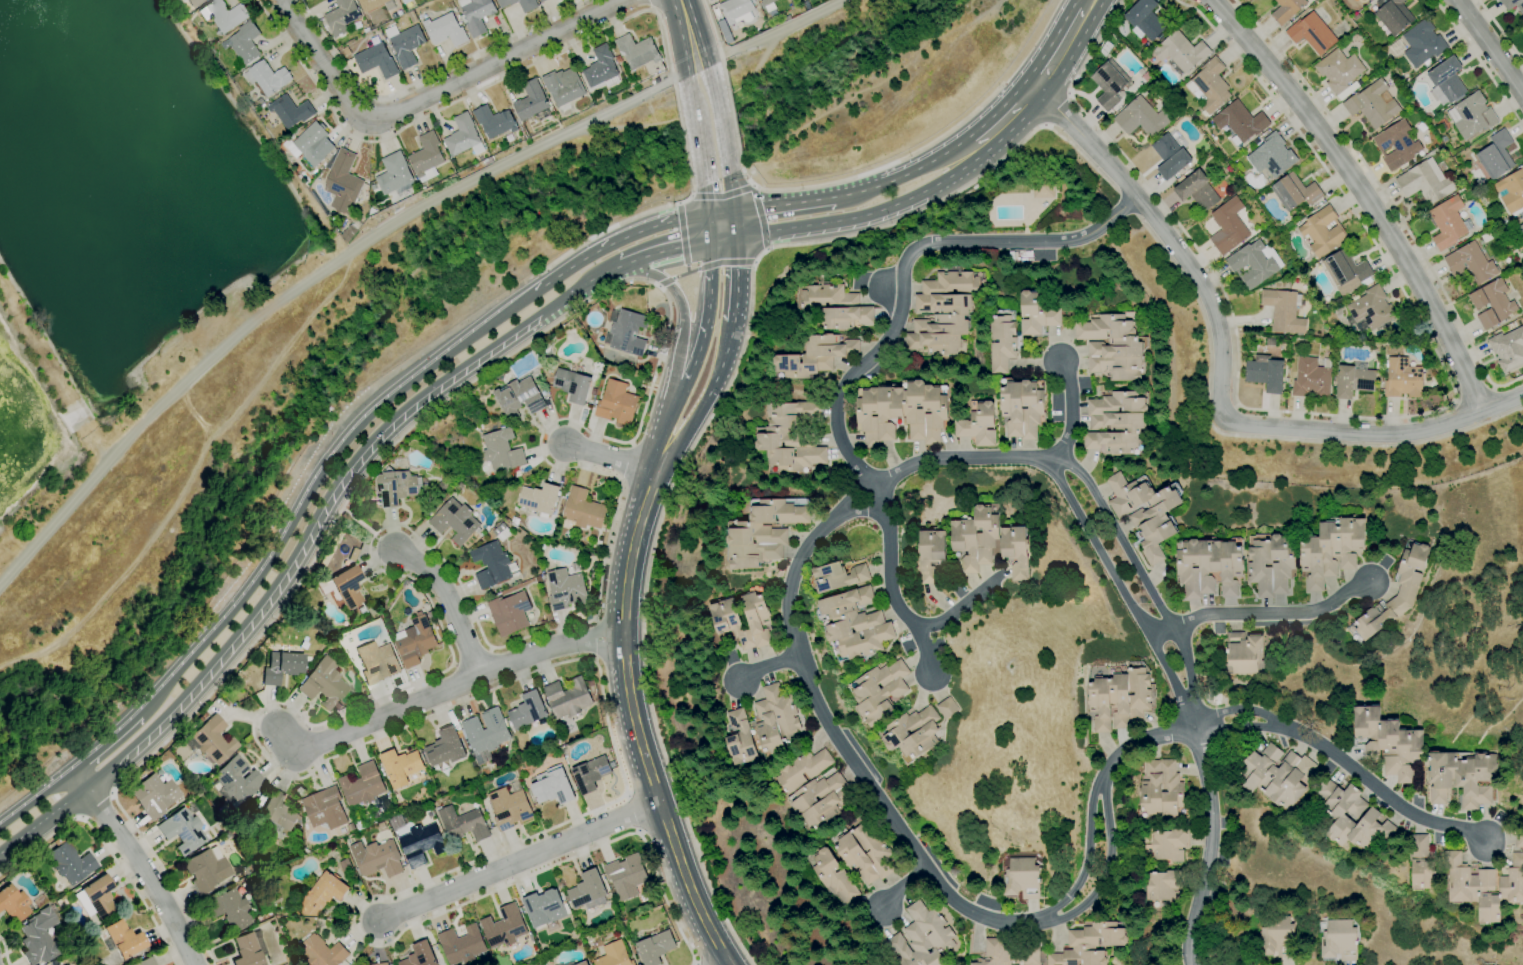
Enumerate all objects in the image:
building: (404, 0)
building: (1361, 0)
building: (542, 1)
building: (195, 2)
road: (1093, 2)
building: (371, 4)
building: (768, 4)
building: (1515, 5)
building: (390, 6)
road: (654, 6)
building: (529, 7)
building: (1286, 10)
building: (737, 11)
building: (400, 13)
building: (476, 15)
building: (1391, 15)
building: (224, 16)
building: (342, 17)
building: (413, 17)
building: (1356, 17)
building: (1145, 18)
building: (391, 22)
road: (686, 24)
building: (351, 27)
building: (445, 30)
road: (713, 30)
road: (1499, 31)
building: (1312, 33)
road: (776, 36)
building: (244, 43)
building: (1422, 43)
building: (405, 44)
road: (1489, 47)
road: (1062, 48)
building: (347, 51)
building: (637, 51)
building: (1180, 52)
road: (702, 57)
building: (376, 58)
road: (1479, 62)
road: (321, 64)
road: (493, 64)
road: (691, 64)
road: (758, 65)
building: (601, 70)
building: (1339, 72)
road: (424, 77)
building: (268, 78)
building: (1446, 80)
building: (1109, 82)
building: (1210, 86)
building: (563, 91)
road: (692, 98)
road: (462, 99)
building: (532, 103)
building: (1373, 104)
road: (1056, 110)
building: (291, 111)
road: (732, 112)
building: (1471, 115)
road: (722, 116)
building: (1142, 116)
building: (1240, 121)
building: (494, 122)
road: (1003, 122)
road: (666, 126)
building: (295, 133)
road: (683, 134)
building: (463, 137)
building: (1445, 138)
building: (508, 139)
building: (310, 144)
building: (1397, 145)
road: (701, 149)
building: (1496, 154)
building: (1169, 156)
building: (1272, 156)
building: (426, 157)
road: (876, 168)
building: (308, 173)
road: (904, 173)
building: (395, 175)
building: (344, 182)
building: (1425, 182)
building: (373, 187)
building: (1044, 187)
road: (735, 189)
building: (1196, 190)
building: (1295, 191)
building: (1511, 191)
road: (1364, 194)
road: (708, 196)
road: (1385, 197)
road: (786, 204)
road: (1127, 204)
traffic signals: (738, 211)
road: (724, 212)
traffic signals: (711, 213)
road: (868, 216)
road: (761, 219)
building: (1448, 222)
building: (1521, 224)
road: (618, 225)
building: (1228, 226)
road: (713, 227)
building: (354, 228)
building: (1521, 229)
building: (1322, 231)
building: (345, 236)
traffic signals: (742, 236)
road: (1166, 236)
road: (728, 238)
road: (620, 239)
traffic signals: (715, 241)
road: (668, 250)
building: (1472, 262)
road: (901, 263)
building: (1254, 263)
road: (739, 269)
building: (1346, 271)
road: (606, 273)
road: (311, 279)
building: (1355, 297)
building: (1492, 303)
building: (831, 306)
building: (1284, 310)
building: (1370, 310)
building: (943, 313)
building: (1036, 315)
road: (681, 319)
road: (703, 327)
building: (626, 332)
building: (570, 334)
building: (1286, 340)
building: (1271, 342)
building: (1001, 343)
building: (1111, 347)
building: (1508, 349)
building: (814, 357)
road: (719, 361)
building: (1265, 373)
building: (1312, 378)
building: (1403, 378)
building: (1354, 380)
building: (548, 381)
building: (1290, 381)
building: (572, 385)
building: (1432, 385)
road: (1493, 388)
building: (593, 391)
road: (1476, 394)
building: (519, 398)
road: (1457, 399)
road: (1497, 402)
building: (616, 403)
road: (1455, 403)
building: (1021, 408)
road: (1070, 411)
road: (713, 413)
building: (902, 413)
road: (1355, 416)
road: (1460, 418)
building: (1115, 422)
building: (978, 425)
road: (683, 432)
road: (1374, 433)
road: (662, 437)
building: (789, 437)
road: (1251, 437)
building: (502, 451)
road: (613, 457)
road: (959, 459)
road: (317, 478)
building: (444, 485)
building: (457, 486)
building: (396, 487)
building: (539, 498)
building: (582, 509)
building: (1145, 513)
building: (455, 521)
building: (514, 521)
road: (359, 523)
road: (399, 526)
building: (499, 529)
building: (763, 531)
building: (976, 539)
building: (597, 546)
building: (1016, 551)
building: (1331, 551)
building: (931, 554)
building: (352, 555)
road: (291, 562)
building: (491, 564)
building: (1235, 566)
building: (836, 577)
building: (539, 579)
park: (1471, 580)
road: (1144, 581)
road: (890, 586)
building: (346, 587)
building: (566, 589)
building: (1407, 590)
road: (1122, 593)
road: (962, 605)
road: (451, 606)
building: (510, 613)
road: (1259, 613)
building: (431, 615)
building: (727, 622)
building: (854, 623)
building: (339, 639)
building: (416, 641)
building: (1244, 651)
building: (307, 659)
building: (377, 662)
road: (766, 667)
building: (280, 668)
building: (323, 683)
building: (880, 691)
road: (443, 692)
building: (568, 698)
building: (1119, 699)
building: (946, 707)
building: (528, 710)
road: (634, 723)
building: (762, 727)
building: (913, 732)
building: (486, 734)
road: (105, 741)
building: (211, 741)
building: (1383, 743)
building: (445, 748)
building: (401, 767)
road: (1349, 767)
building: (590, 774)
building: (1276, 775)
building: (1458, 777)
building: (198, 778)
building: (234, 784)
building: (363, 785)
building: (553, 787)
building: (813, 788)
building: (1160, 788)
road: (36, 795)
building: (153, 795)
road: (98, 806)
building: (509, 808)
building: (325, 809)
building: (278, 813)
building: (1336, 813)
building: (463, 824)
building: (359, 825)
building: (351, 827)
building: (182, 830)
building: (1519, 836)
building: (421, 844)
building: (1168, 845)
road: (1208, 845)
road: (105, 846)
building: (865, 853)
road: (917, 854)
building: (377, 858)
building: (70, 863)
road: (138, 863)
building: (1422, 863)
road: (522, 864)
building: (246, 869)
building: (205, 870)
building: (626, 876)
building: (834, 876)
building: (1022, 878)
building: (1484, 885)
building: (1163, 886)
road: (906, 889)
building: (588, 891)
building: (322, 895)
building: (99, 896)
building: (13, 903)
building: (544, 907)
building: (229, 909)
building: (505, 927)
building: (1277, 936)
building: (40, 937)
building: (922, 938)
building: (124, 939)
building: (1339, 940)
building: (1089, 944)
building: (462, 945)
building: (655, 947)
building: (249, 949)
road: (5, 950)
building: (321, 952)
building: (993, 954)
building: (420, 955)
building: (614, 955)
building: (1030, 955)
building: (145, 961)
building: (77, 963)
building: (583, 963)
road: (696, 963)
building: (67, 964)
building: (382, 964)
building: (560, 964)
building: (572, 964)

